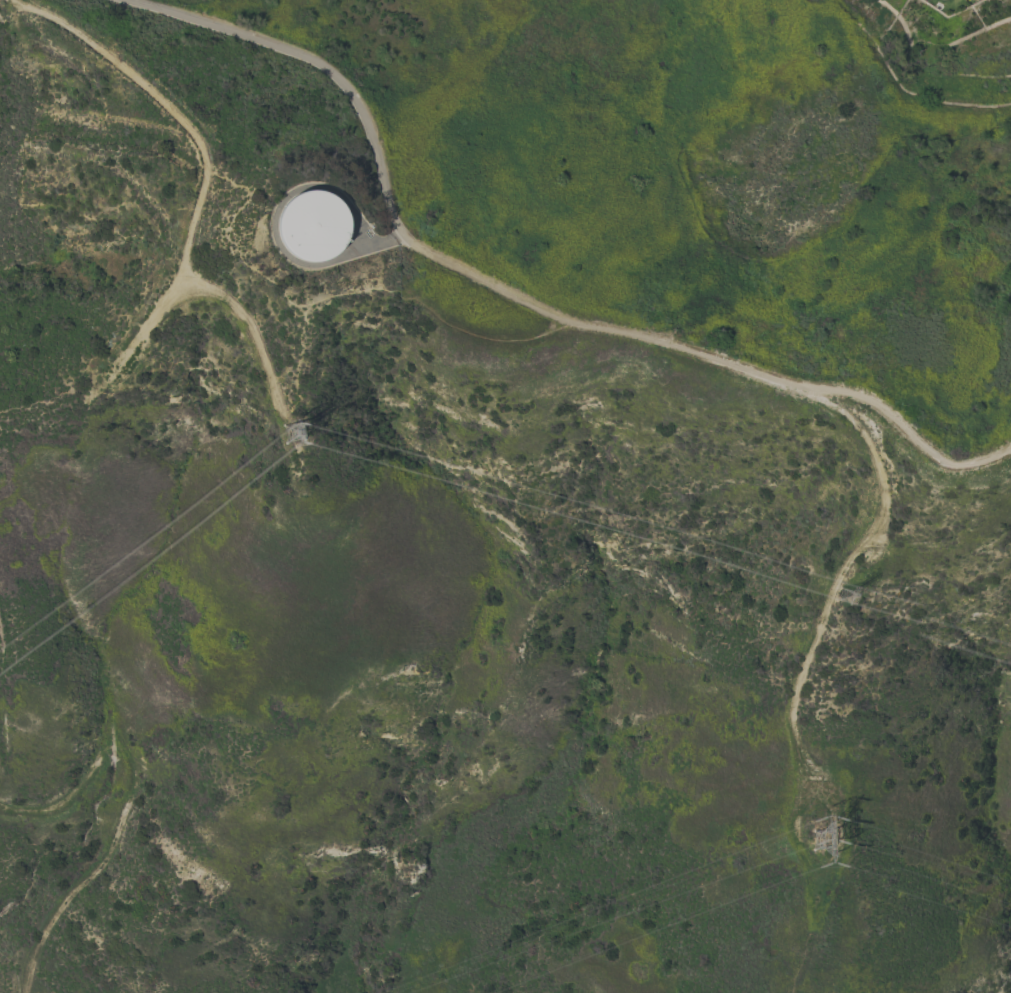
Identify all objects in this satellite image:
road: (323, 67)
building: (313, 227)
water tower: (314, 229)
road: (715, 359)
power tower: (286, 434)
road: (802, 677)
power tower: (817, 841)

